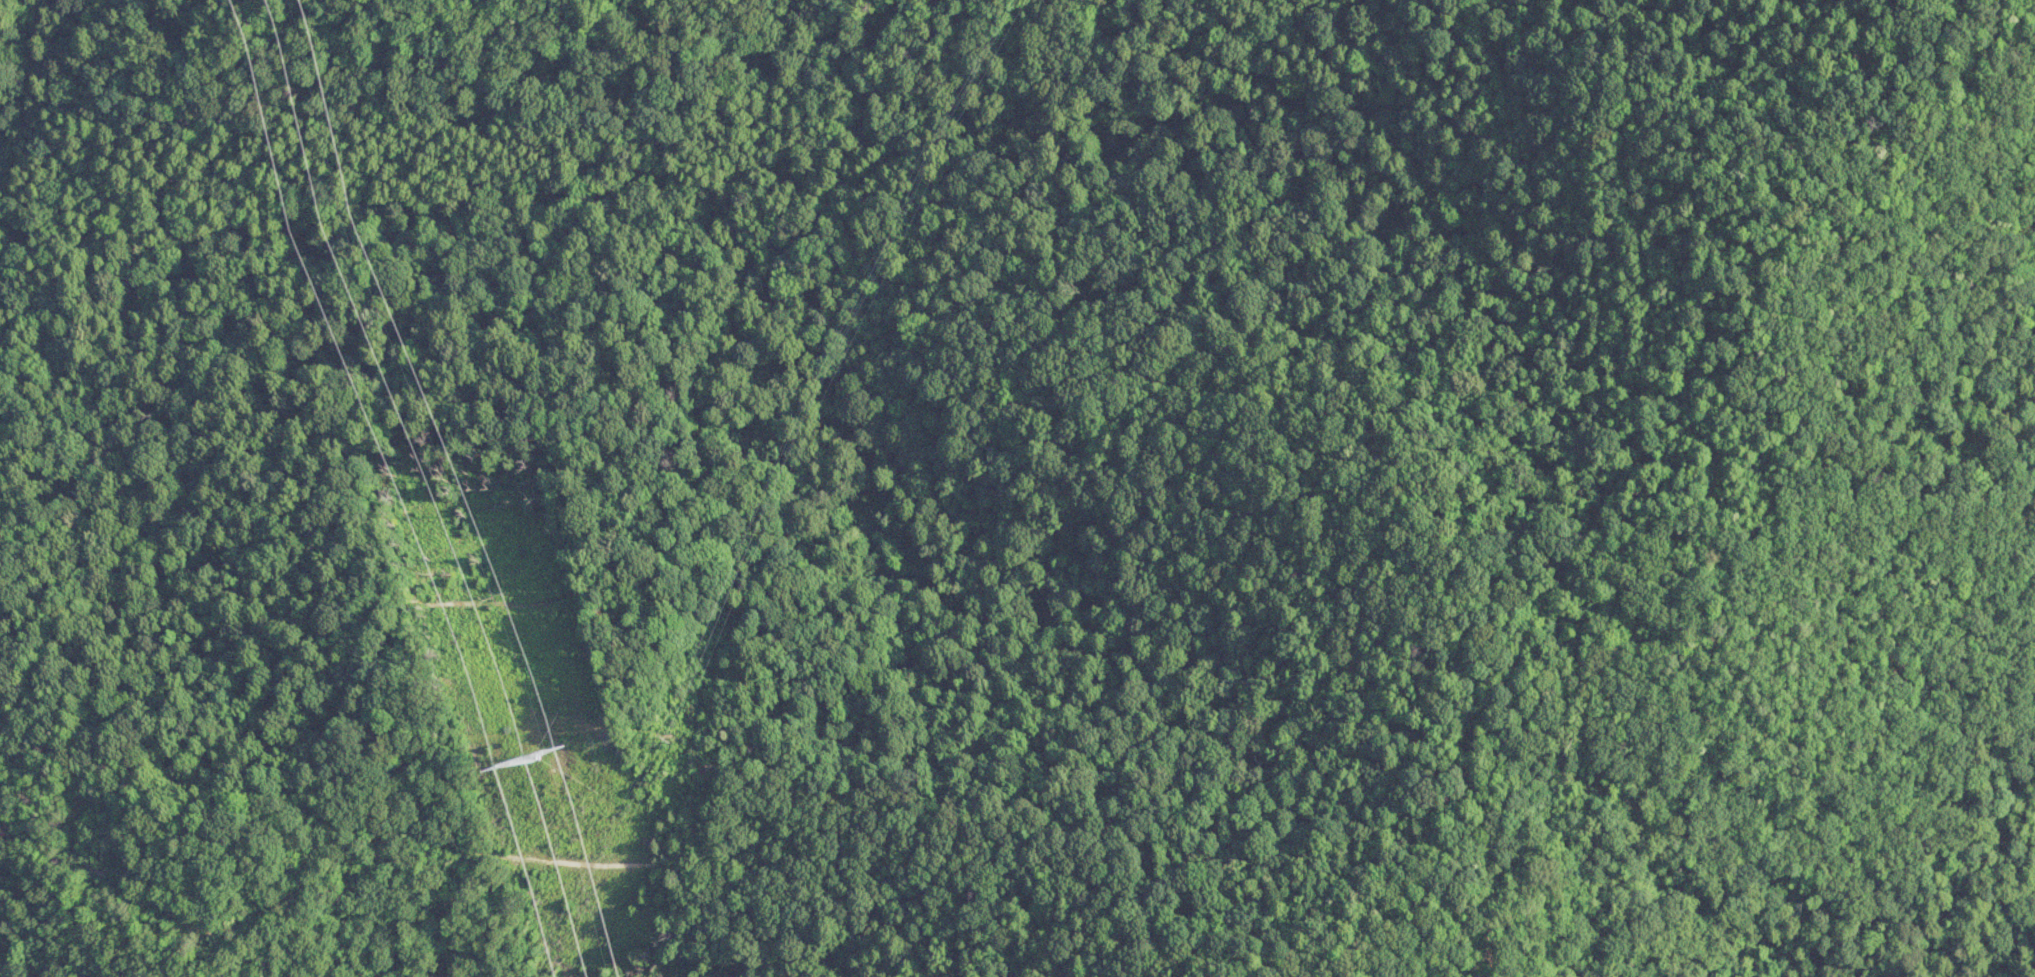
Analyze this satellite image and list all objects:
power tower: (542, 764)

